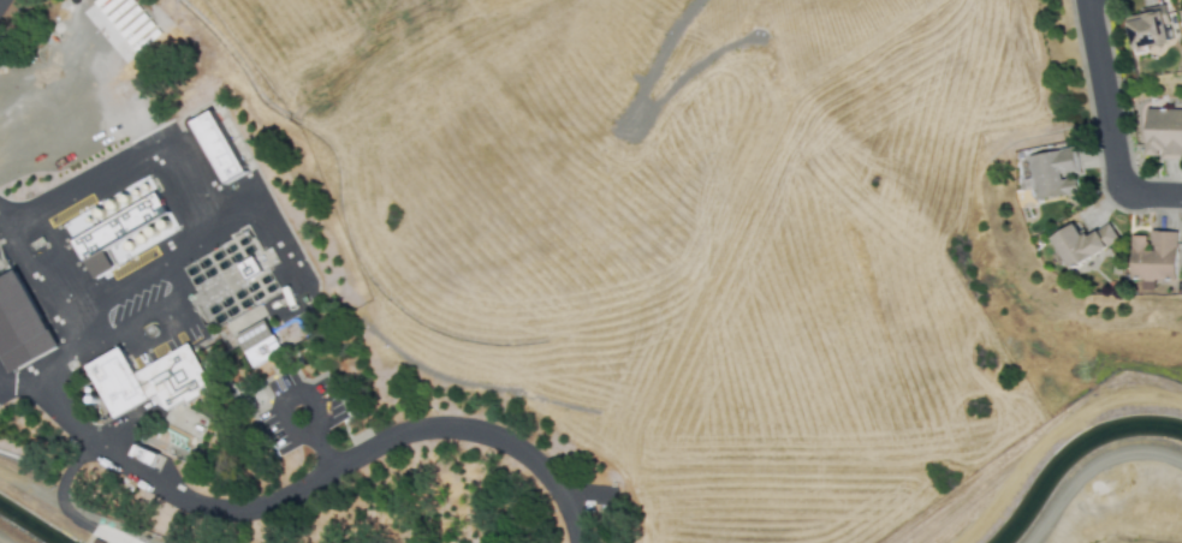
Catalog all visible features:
building: (1181, 13)
building: (1148, 26)
road: (54, 84)
road: (1107, 121)
building: (1163, 132)
building: (218, 145)
building: (1052, 172)
road: (206, 178)
building: (124, 233)
building: (1082, 241)
building: (1152, 256)
building: (20, 321)
building: (257, 341)
road: (26, 380)
building: (148, 380)
road: (305, 390)
road: (1050, 434)
road: (1091, 466)
road: (67, 467)
road: (61, 506)
road: (238, 508)
road: (1, 542)

